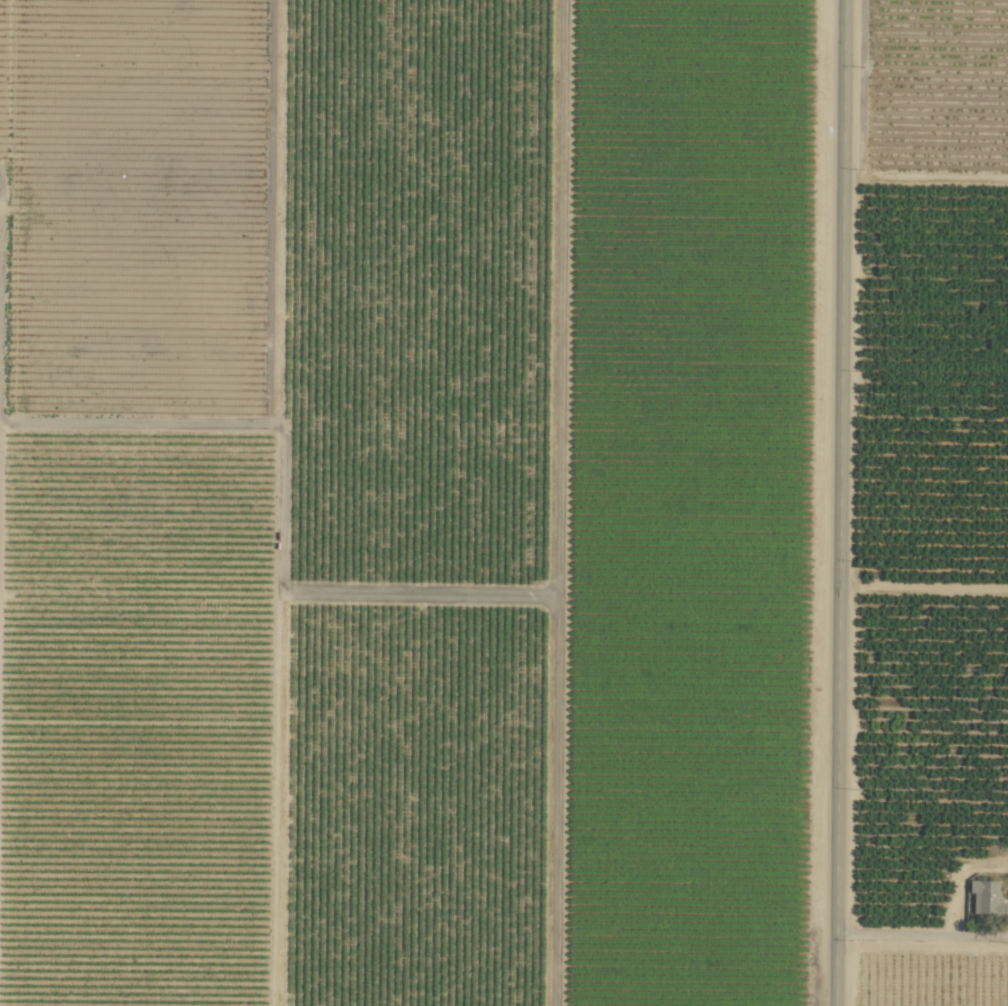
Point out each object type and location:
road: (1, 165)
road: (2, 287)
road: (838, 502)
road: (922, 584)
building: (986, 897)
road: (917, 934)
road: (1004, 935)

